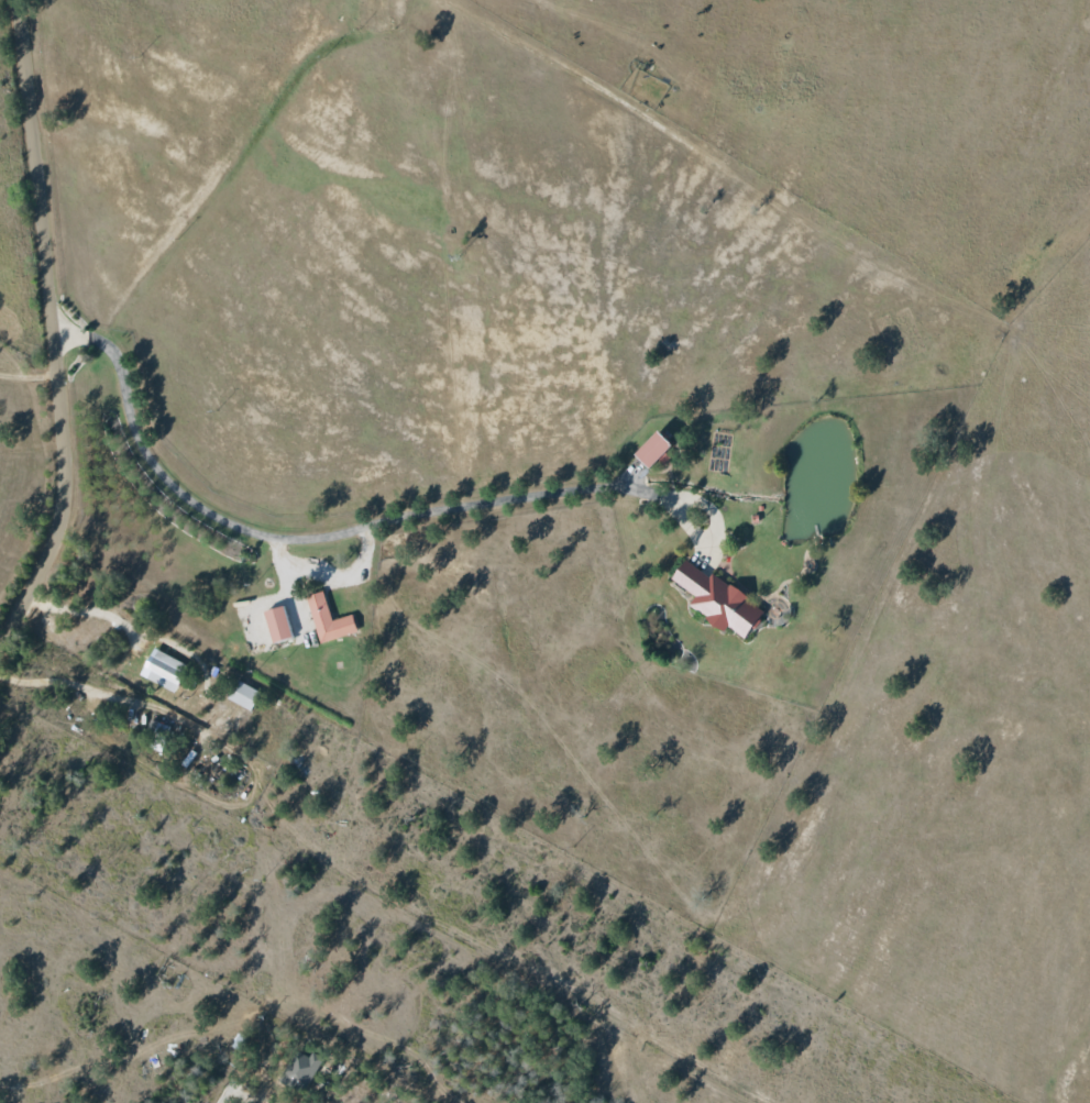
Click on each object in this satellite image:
road: (47, 322)
road: (26, 376)
building: (650, 449)
road: (282, 538)
road: (330, 572)
building: (716, 600)
building: (327, 619)
building: (276, 624)
building: (162, 670)
road: (40, 680)
building: (242, 694)
road: (240, 794)
building: (300, 1070)
road: (225, 1095)

